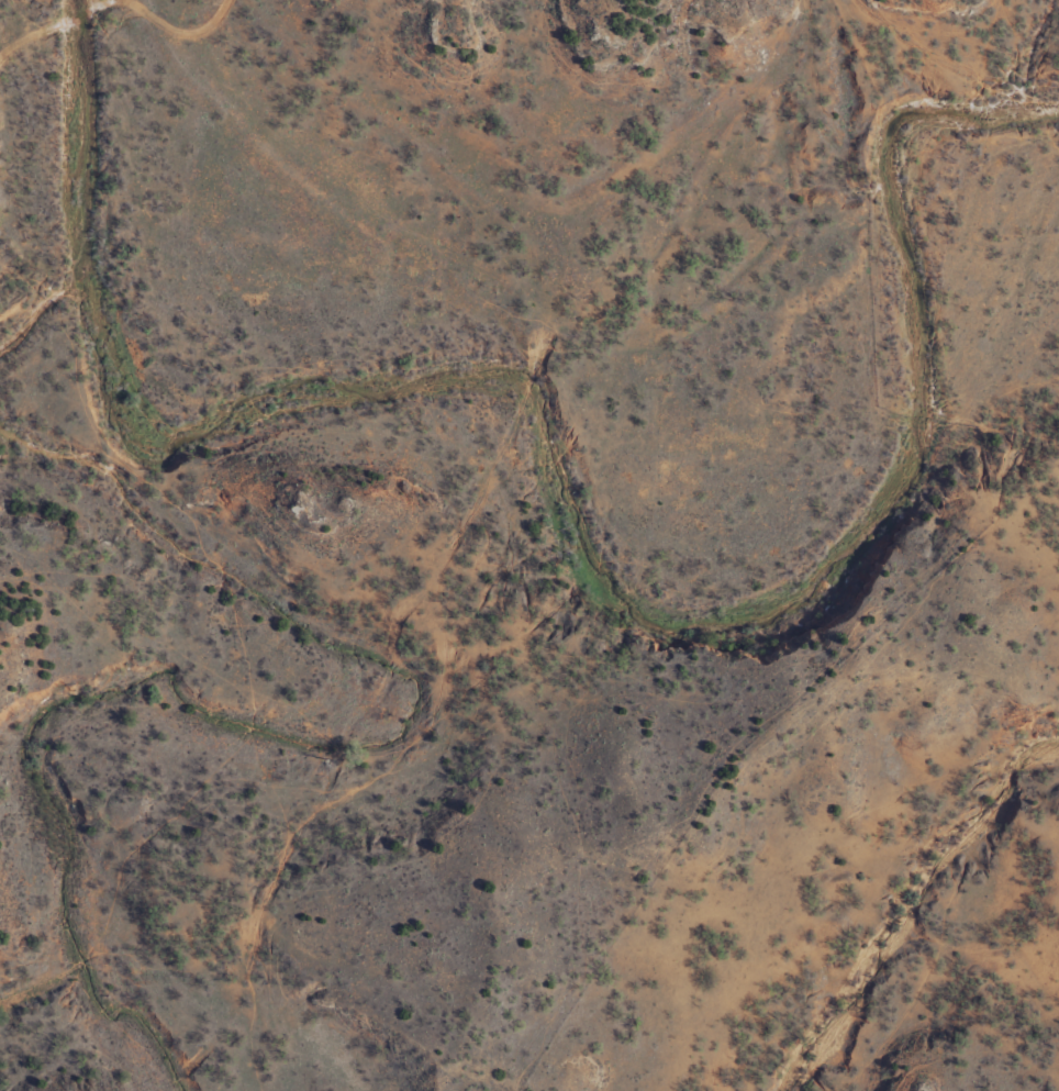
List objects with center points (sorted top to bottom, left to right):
road: (121, 8)

